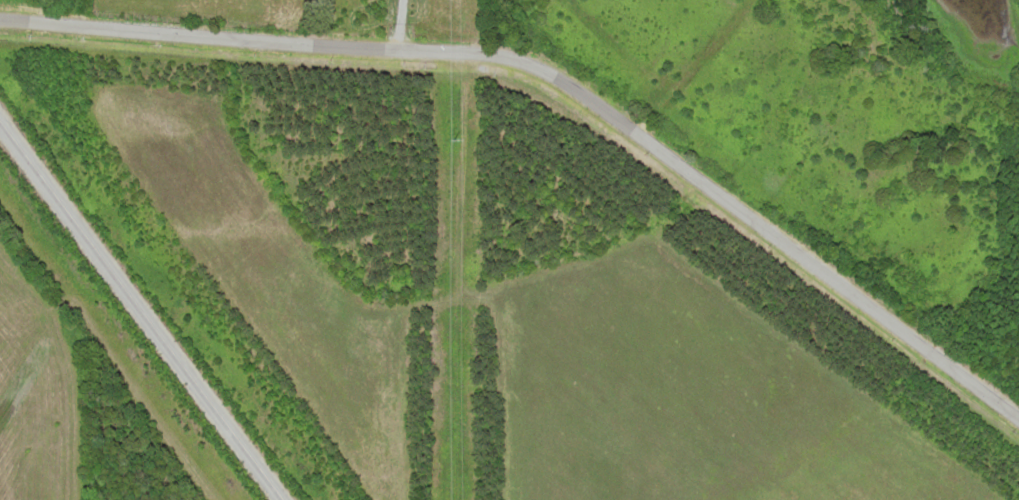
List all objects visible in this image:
road: (563, 85)
railway: (138, 313)
building: (462, 355)

